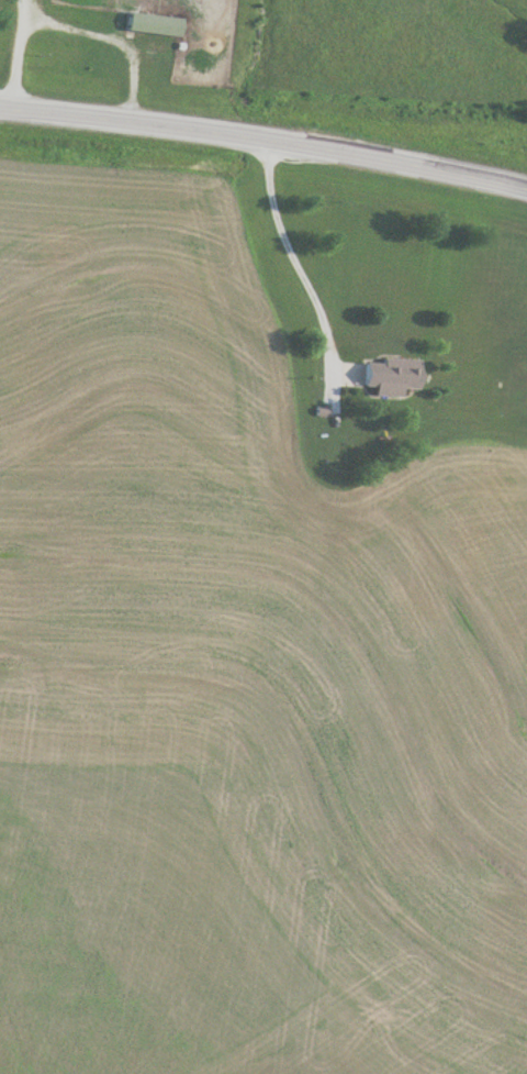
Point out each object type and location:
building: (152, 23)
road: (18, 55)
road: (265, 142)
road: (303, 275)
building: (388, 376)

